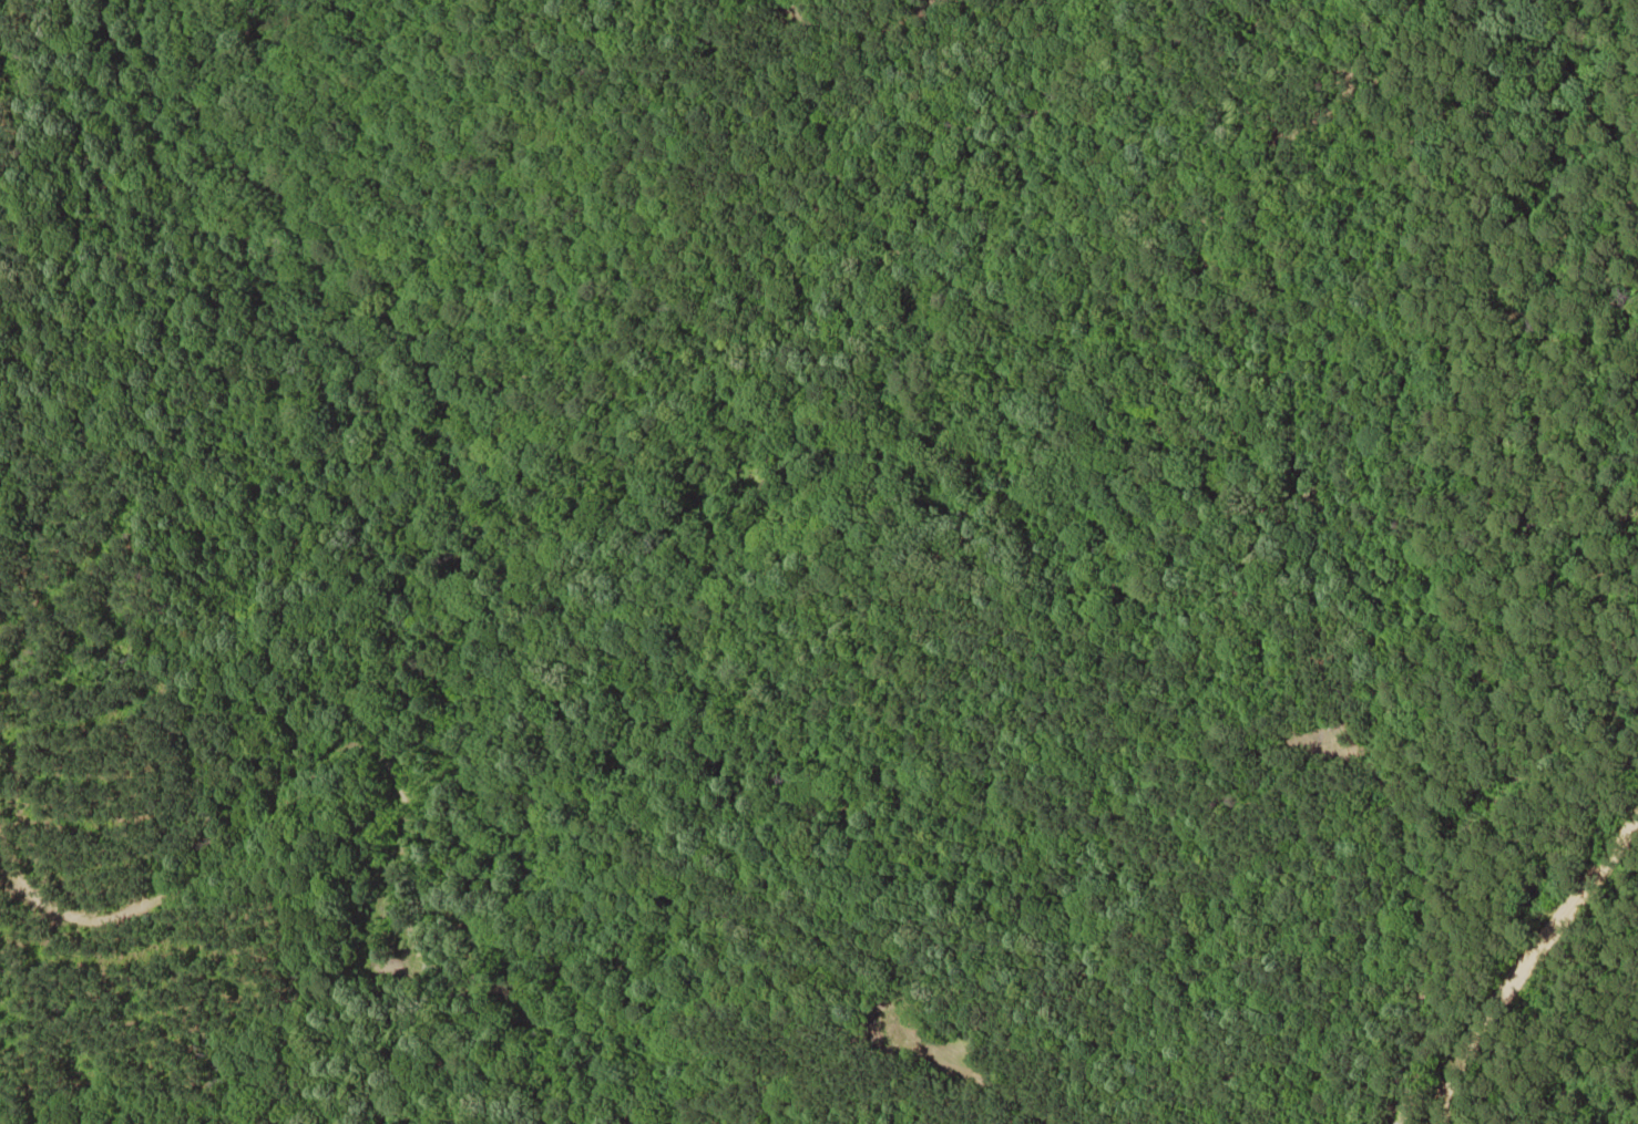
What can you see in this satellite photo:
road: (1549, 997)

